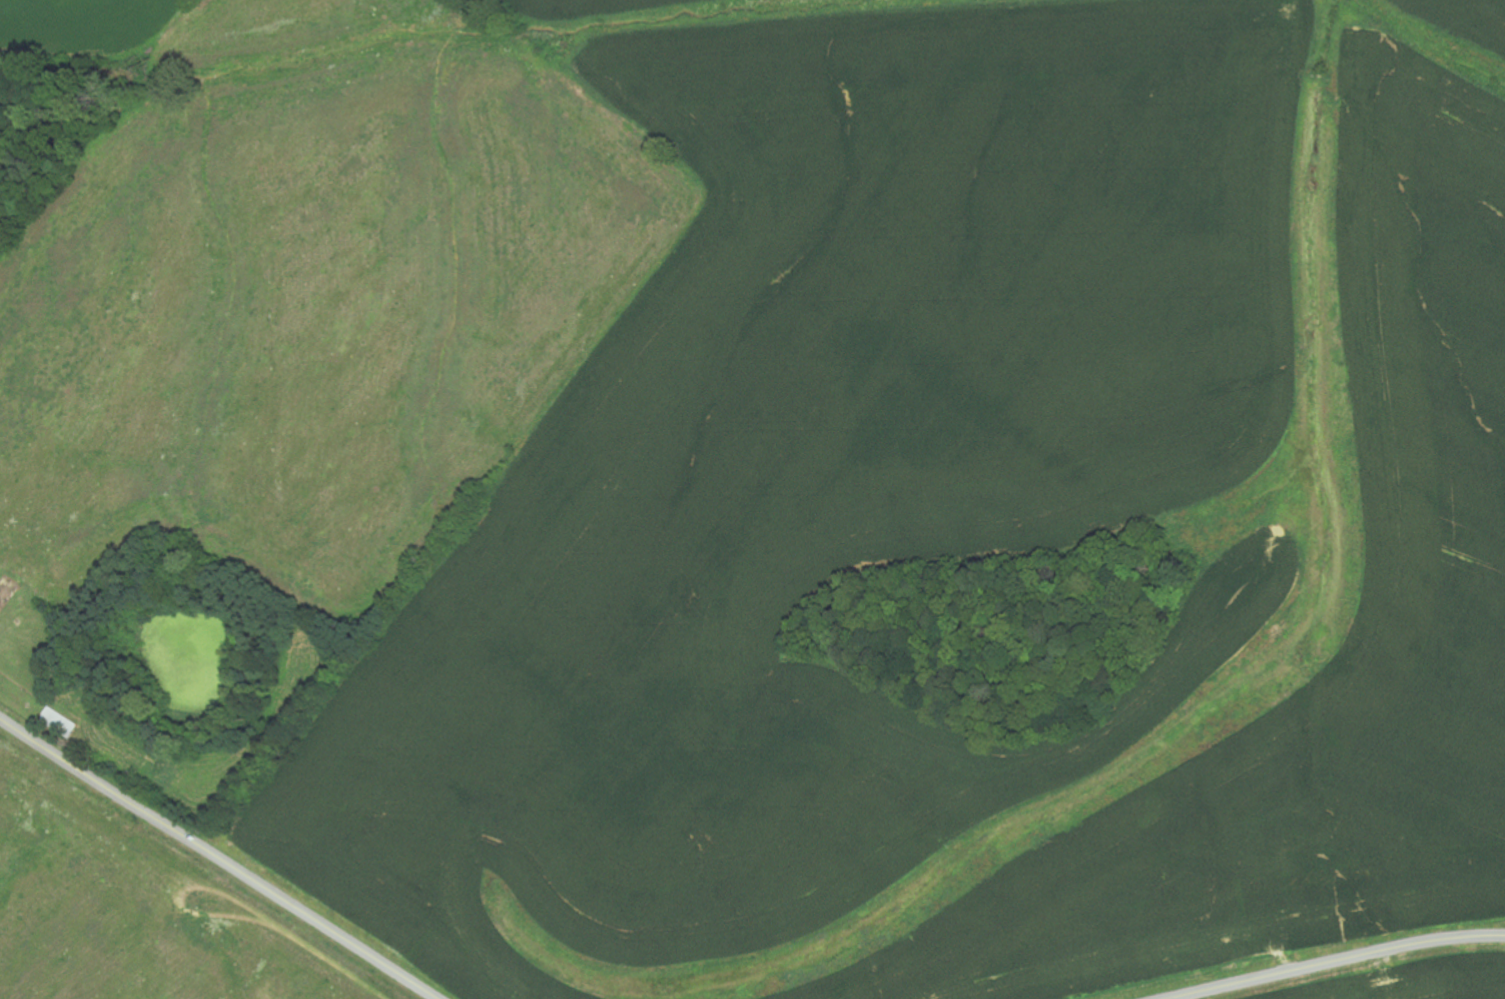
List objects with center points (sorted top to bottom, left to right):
road: (219, 859)
road: (1333, 962)

